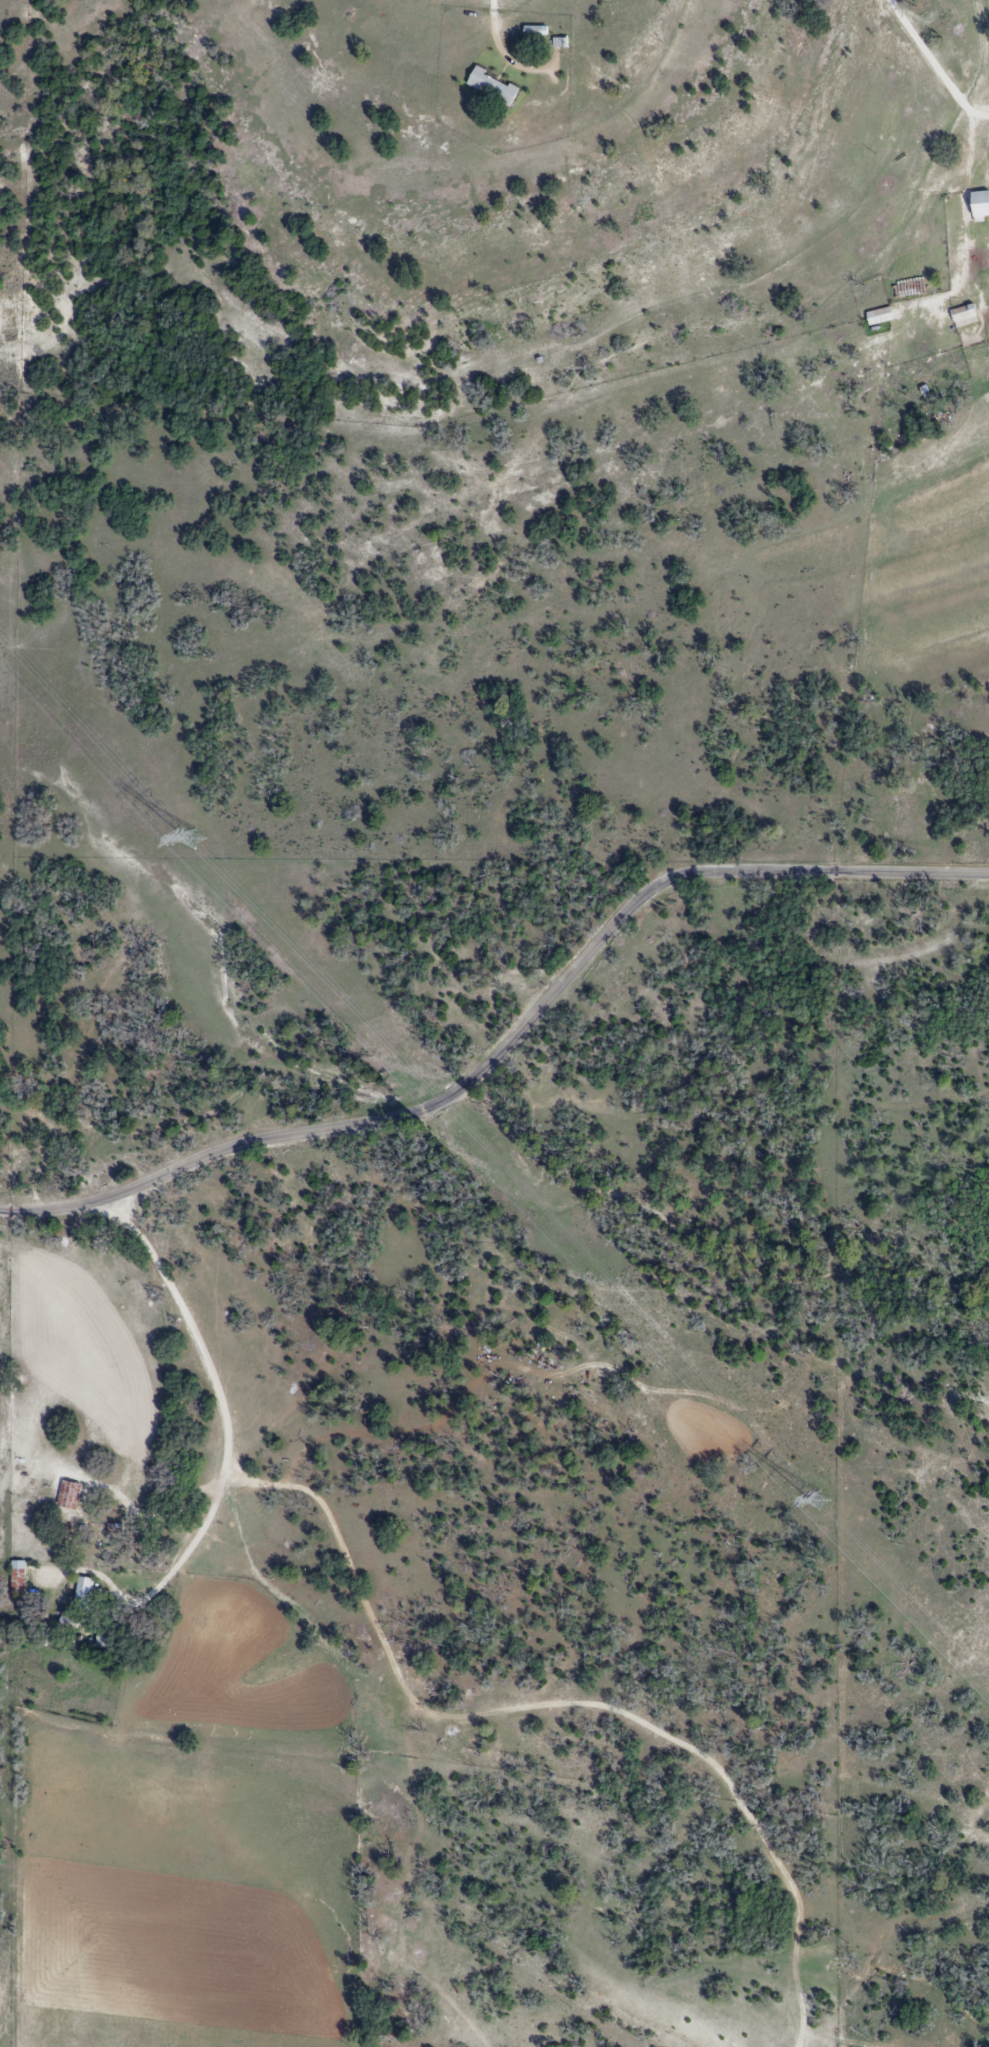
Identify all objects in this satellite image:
building: (533, 33)
building: (558, 46)
road: (935, 64)
building: (493, 89)
building: (980, 206)
building: (880, 318)
building: (964, 318)
power tower: (192, 841)
road: (507, 1040)
road: (219, 1387)
building: (69, 1497)
power tower: (818, 1499)
building: (18, 1579)
building: (84, 1592)

